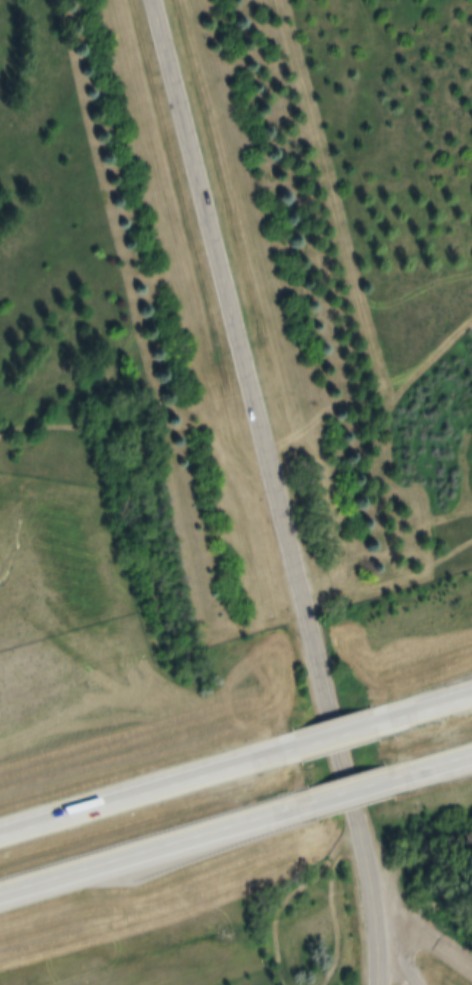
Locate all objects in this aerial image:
road: (277, 490)
road: (439, 720)
road: (349, 748)
road: (439, 783)
road: (145, 803)
road: (356, 808)
road: (152, 865)
road: (423, 937)
road: (393, 945)

